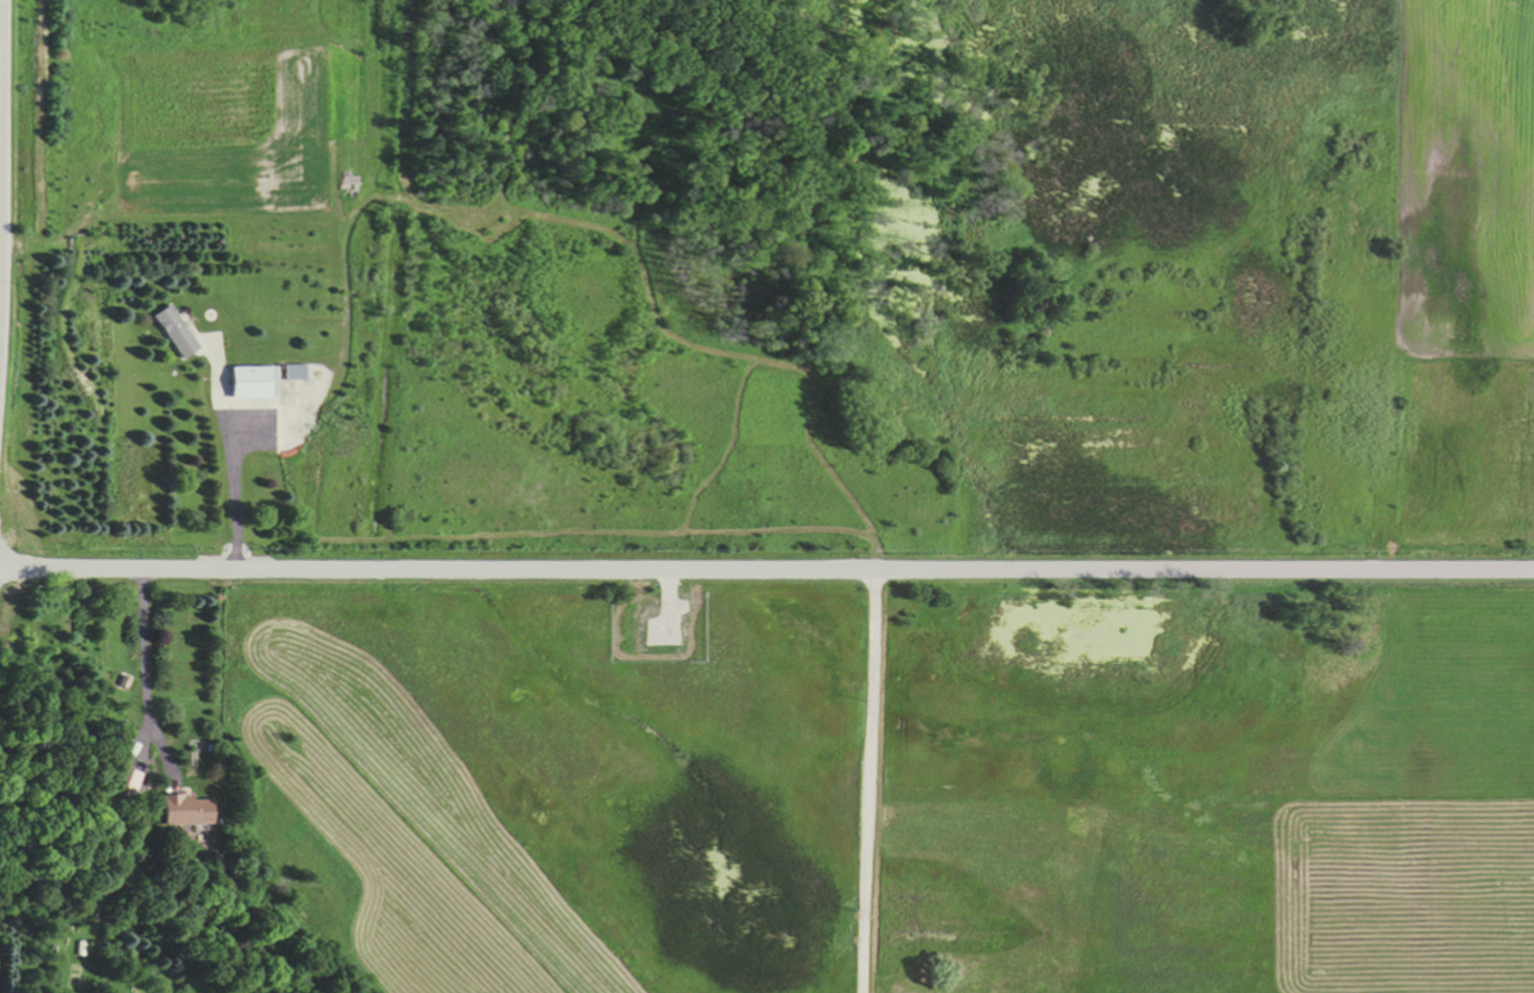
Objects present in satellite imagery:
road: (0, 188)
road: (0, 271)
building: (177, 332)
building: (296, 372)
building: (256, 382)
road: (238, 500)
road: (766, 570)
road: (149, 676)
road: (875, 781)
building: (126, 784)
building: (185, 810)

